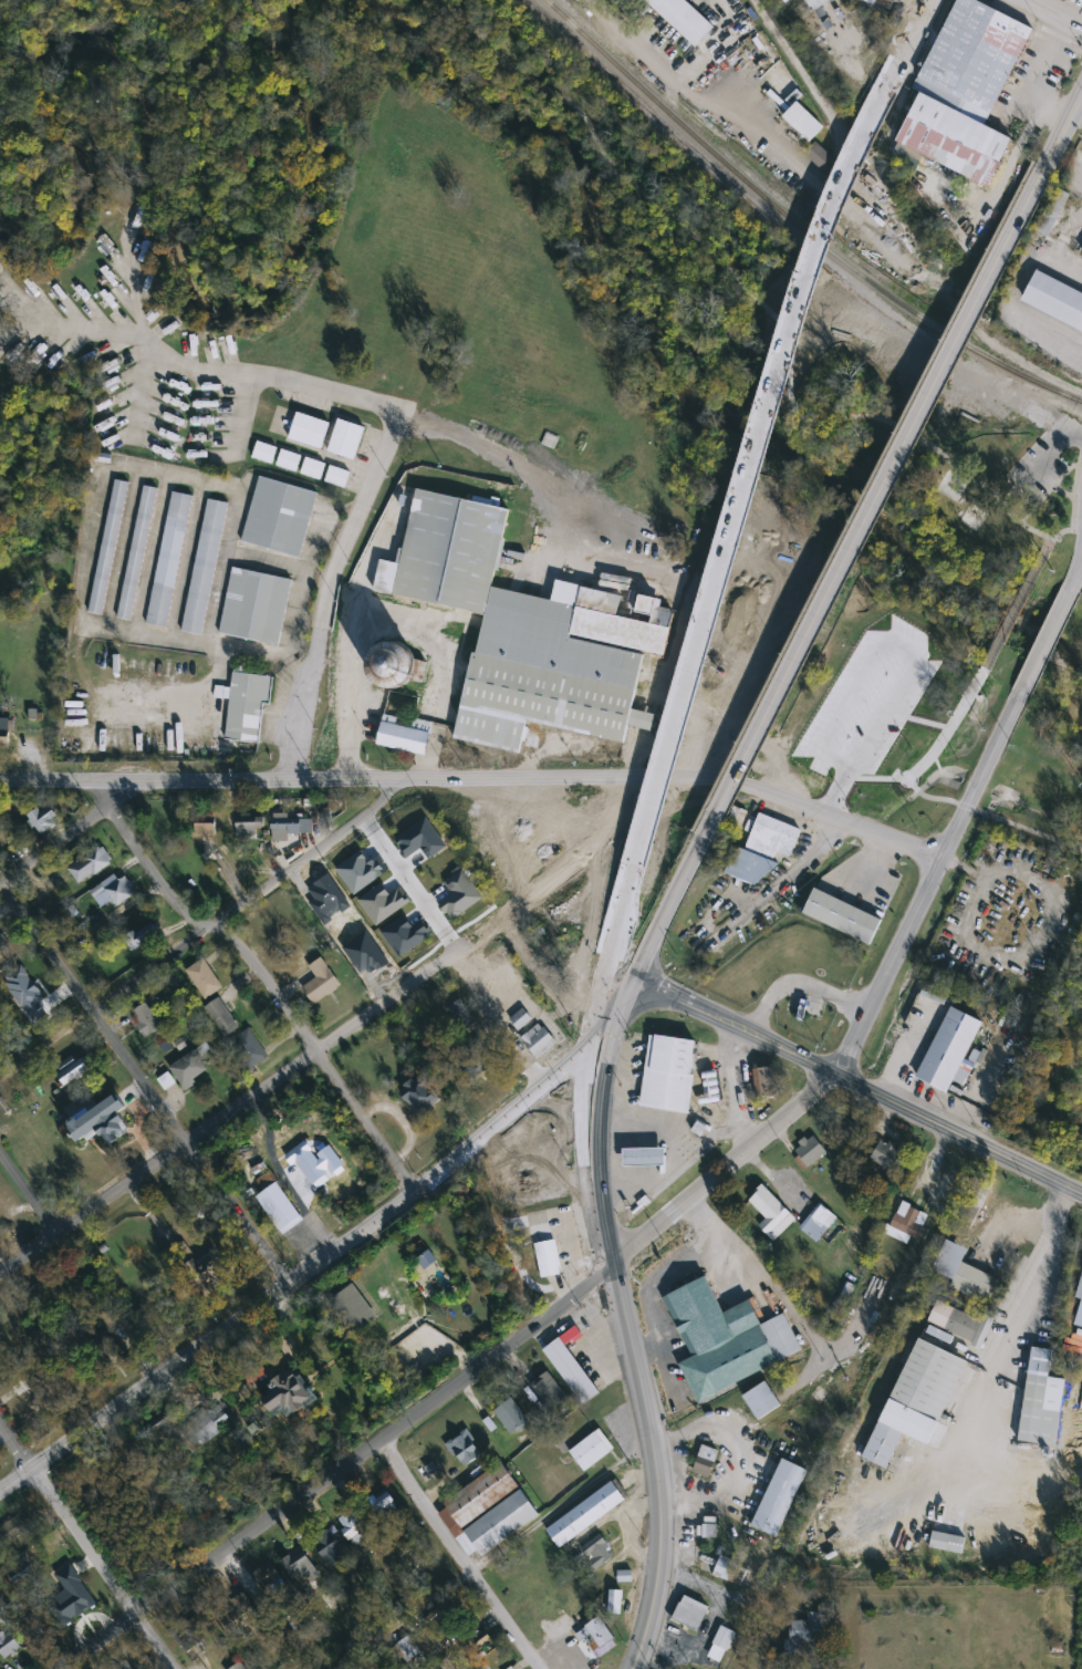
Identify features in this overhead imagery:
building: (787, 0)
building: (870, 1)
building: (809, 4)
road: (1061, 10)
road: (1081, 17)
building: (683, 19)
road: (916, 34)
parking lot: (1038, 76)
road: (695, 91)
building: (965, 93)
road: (818, 95)
building: (803, 122)
road: (1064, 123)
building: (821, 156)
railway: (797, 224)
road: (1002, 247)
railway: (803, 251)
building: (1057, 299)
road: (763, 300)
road: (141, 388)
road: (241, 416)
road: (389, 417)
building: (309, 431)
road: (1081, 438)
building: (346, 439)
road: (1053, 450)
building: (264, 453)
parking lot: (1045, 459)
building: (289, 460)
road: (761, 463)
building: (313, 468)
park: (989, 470)
building: (336, 477)
park: (950, 485)
park: (972, 515)
building: (280, 516)
road: (1048, 545)
building: (451, 547)
building: (108, 548)
building: (138, 553)
building: (169, 560)
building: (206, 568)
road: (1078, 576)
road: (829, 584)
building: (254, 607)
road: (1015, 611)
road: (1049, 641)
building: (392, 662)
building: (724, 668)
building: (545, 674)
road: (354, 695)
building: (246, 704)
building: (6, 735)
building: (404, 736)
parking lot: (946, 742)
road: (932, 757)
building: (815, 758)
road: (480, 776)
road: (986, 777)
road: (101, 794)
road: (993, 817)
building: (43, 820)
building: (290, 828)
building: (208, 830)
building: (250, 830)
road: (52, 842)
building: (763, 850)
building: (91, 864)
road: (408, 882)
building: (114, 891)
road: (771, 892)
road: (251, 899)
road: (664, 913)
building: (843, 915)
road: (622, 923)
road: (480, 932)
building: (143, 936)
building: (3, 945)
road: (894, 968)
building: (205, 978)
road: (268, 982)
building: (321, 983)
road: (801, 984)
building: (559, 989)
road: (517, 998)
road: (384, 1002)
building: (461, 1015)
building: (520, 1016)
building: (223, 1017)
building: (146, 1019)
building: (538, 1037)
traffic signals: (600, 1043)
building: (946, 1045)
road: (901, 1048)
building: (250, 1049)
building: (469, 1060)
building: (190, 1069)
building: (75, 1070)
building: (672, 1074)
road: (141, 1080)
road: (851, 1080)
building: (768, 1081)
road: (732, 1088)
building: (420, 1095)
road: (249, 1097)
road: (566, 1107)
building: (105, 1119)
building: (847, 1130)
building: (547, 1138)
building: (810, 1151)
building: (886, 1154)
building: (647, 1157)
gas station: (647, 1157)
road: (121, 1186)
road: (28, 1190)
building: (975, 1199)
building: (277, 1203)
building: (771, 1214)
building: (818, 1222)
building: (907, 1226)
road: (28, 1248)
building: (547, 1255)
road: (300, 1266)
railway: (882, 1269)
building: (964, 1271)
building: (210, 1272)
road: (657, 1272)
road: (1030, 1283)
building: (1079, 1286)
building: (352, 1309)
building: (959, 1321)
road: (624, 1326)
building: (726, 1340)
building: (571, 1362)
road: (454, 1379)
building: (550, 1392)
building: (290, 1393)
building: (763, 1399)
building: (30, 1401)
building: (914, 1401)
building: (1039, 1401)
building: (511, 1417)
road: (736, 1445)
building: (591, 1448)
building: (465, 1449)
building: (705, 1458)
building: (779, 1495)
building: (387, 1506)
building: (586, 1510)
building: (490, 1511)
road: (67, 1520)
building: (708, 1525)
building: (14, 1531)
building: (945, 1541)
building: (332, 1547)
building: (596, 1548)
road: (456, 1553)
building: (729, 1569)
building: (303, 1572)
building: (624, 1573)
building: (273, 1585)
building: (73, 1593)
building: (614, 1598)
building: (689, 1609)
building: (245, 1619)
road: (400, 1620)
building: (593, 1629)
building: (809, 1631)
building: (189, 1634)
road: (154, 1641)
building: (721, 1641)
building: (8, 1644)
building: (419, 1647)
building: (119, 1665)
building: (240, 1666)

